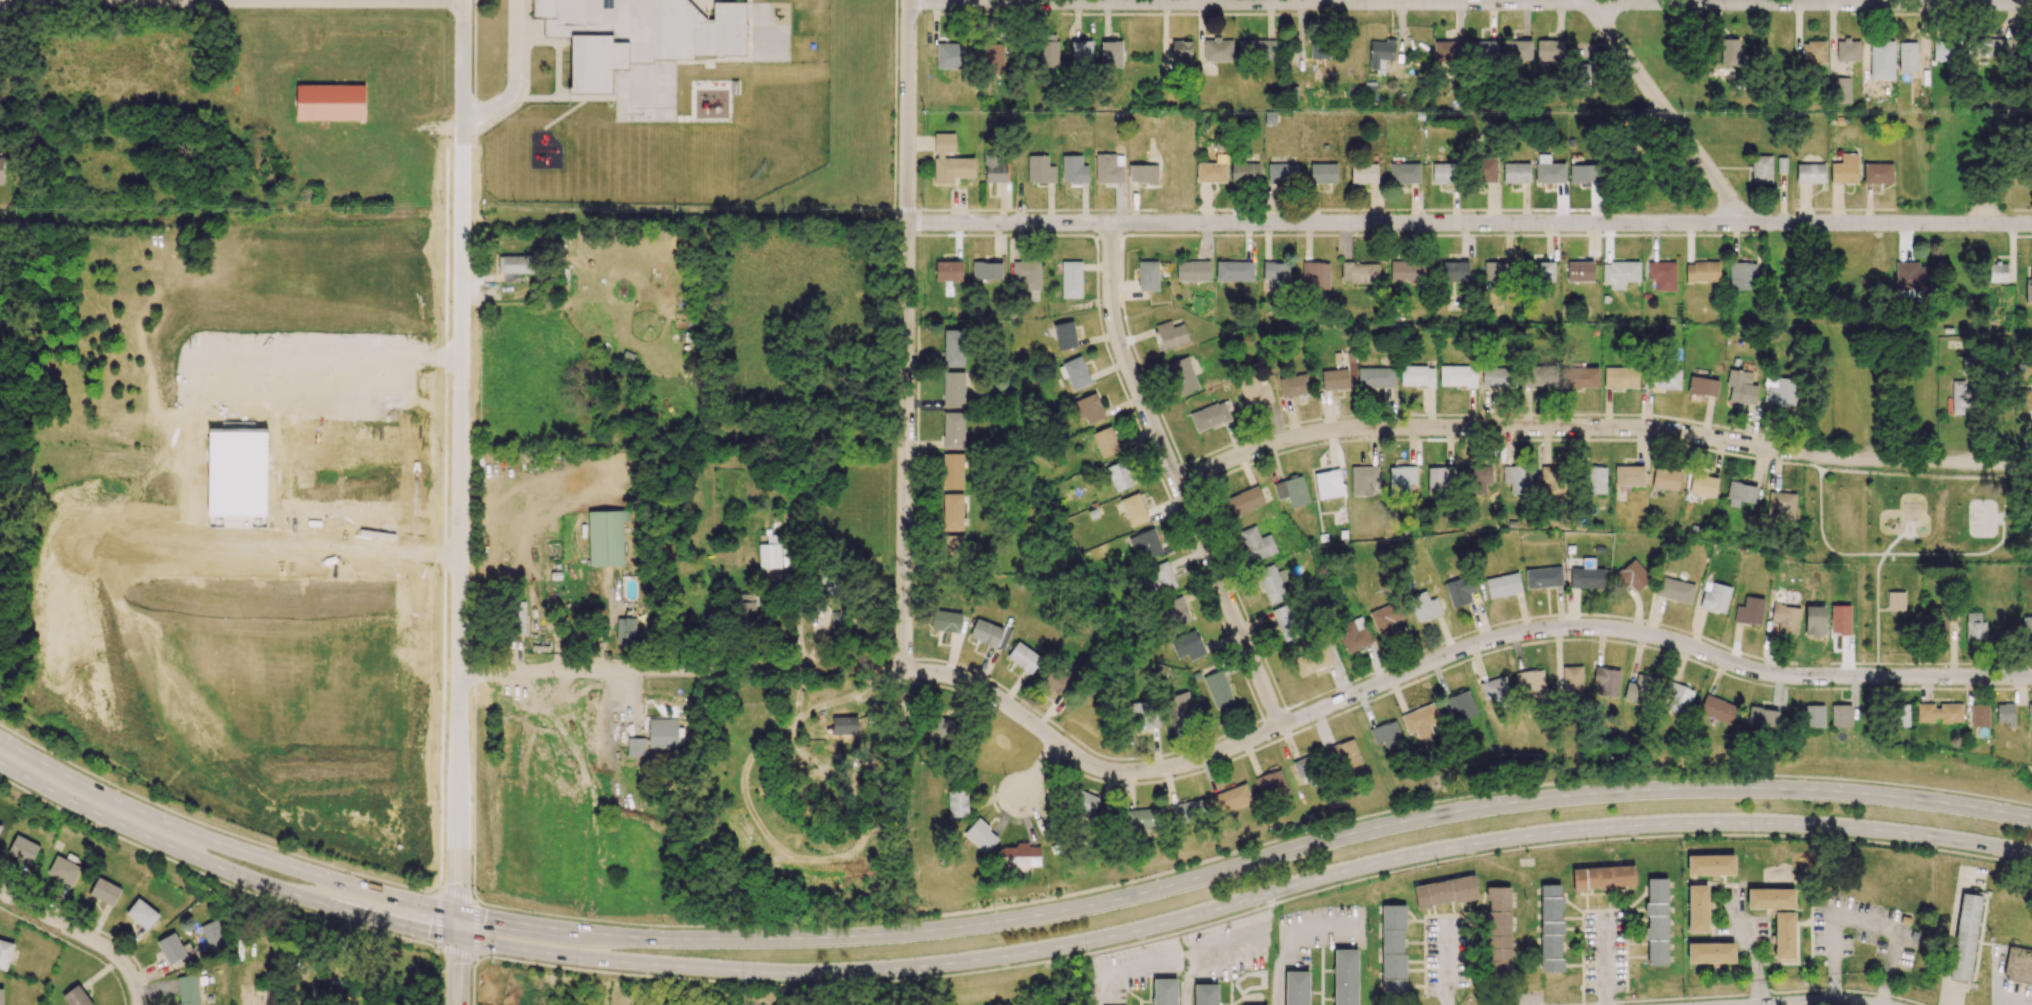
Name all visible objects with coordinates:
road: (287, 0)
road: (1470, 2)
building: (559, 16)
building: (679, 29)
building: (1991, 47)
building: (1256, 49)
building: (1482, 49)
building: (1048, 50)
building: (1218, 50)
building: (1318, 50)
building: (1516, 50)
building: (1550, 50)
building: (1848, 50)
building: (1946, 50)
building: (1449, 51)
building: (1081, 52)
building: (1182, 52)
building: (1729, 52)
building: (1813, 52)
building: (1380, 53)
building: (1111, 54)
building: (952, 56)
building: (1907, 56)
building: (994, 58)
building: (1, 60)
building: (1881, 60)
building: (595, 62)
road: (462, 70)
road: (515, 75)
building: (1581, 76)
building: (1840, 90)
building: (330, 102)
road: (1664, 109)
building: (950, 161)
building: (1781, 165)
building: (1109, 168)
building: (994, 169)
building: (1040, 169)
building: (1073, 169)
building: (1761, 169)
building: (1844, 169)
building: (0, 170)
building: (1212, 170)
building: (1485, 170)
building: (1549, 170)
building: (1245, 172)
building: (1143, 173)
building: (1282, 173)
building: (1322, 173)
building: (1363, 173)
building: (1404, 173)
building: (1444, 173)
building: (1516, 173)
building: (1810, 173)
building: (1877, 173)
building: (1583, 174)
road: (3, 212)
road: (398, 213)
road: (1469, 222)
building: (515, 266)
building: (987, 270)
building: (948, 271)
building: (1193, 271)
building: (1234, 271)
building: (1406, 271)
building: (1454, 271)
building: (1496, 271)
building: (1542, 271)
building: (1580, 271)
building: (1359, 272)
building: (1702, 272)
building: (1999, 272)
building: (1619, 273)
building: (1148, 275)
building: (1275, 275)
building: (1662, 275)
building: (1320, 276)
building: (1742, 276)
building: (1912, 276)
building: (1027, 278)
building: (1071, 279)
building: (2028, 288)
building: (1065, 335)
building: (1171, 335)
road: (905, 336)
building: (954, 348)
building: (1074, 373)
building: (1183, 375)
building: (1417, 376)
building: (1457, 376)
building: (1531, 376)
building: (1585, 376)
building: (1376, 377)
building: (1496, 377)
building: (1619, 378)
building: (1334, 379)
building: (1664, 379)
building: (1294, 385)
building: (1702, 386)
building: (1741, 387)
building: (953, 389)
building: (1255, 392)
building: (1782, 392)
building: (1960, 397)
building: (2025, 399)
road: (464, 405)
building: (1089, 408)
building: (1209, 416)
road: (1600, 427)
building: (953, 430)
building: (1105, 442)
building: (952, 471)
building: (1629, 475)
building: (1119, 476)
building: (1401, 478)
building: (1479, 478)
building: (1517, 478)
road: (1174, 479)
building: (1364, 479)
building: (1665, 479)
building: (1440, 480)
building: (1553, 480)
building: (1596, 480)
building: (1328, 484)
building: (1703, 485)
building: (1291, 490)
building: (1741, 494)
building: (1245, 501)
building: (1781, 507)
building: (1134, 509)
building: (952, 512)
road: (85, 532)
building: (606, 537)
building: (1257, 542)
building: (952, 545)
building: (1146, 545)
building: (770, 552)
road: (289, 556)
building: (1587, 575)
building: (1634, 575)
building: (1543, 577)
building: (1158, 578)
building: (1272, 583)
building: (827, 584)
building: (1503, 585)
building: (1674, 590)
building: (1458, 592)
building: (1715, 598)
building: (1895, 601)
building: (1424, 606)
building: (746, 607)
building: (1750, 611)
building: (1176, 612)
building: (519, 617)
building: (1385, 618)
building: (1840, 619)
building: (1786, 620)
building: (841, 621)
building: (946, 621)
building: (1286, 622)
building: (1945, 625)
building: (1974, 627)
building: (2027, 627)
building: (625, 630)
building: (989, 633)
building: (1353, 635)
building: (1190, 646)
building: (1023, 657)
building: (1313, 660)
building: (1057, 681)
building: (1572, 681)
building: (1606, 681)
building: (1530, 683)
building: (1494, 688)
building: (1218, 689)
building: (1639, 689)
building: (1677, 699)
building: (1461, 706)
building: (1179, 707)
building: (1716, 709)
building: (2029, 712)
building: (1938, 713)
building: (2005, 713)
building: (1144, 715)
building: (1902, 715)
building: (1979, 715)
building: (1813, 716)
building: (1841, 716)
building: (1762, 717)
building: (1421, 718)
building: (943, 728)
building: (664, 733)
building: (1387, 735)
road: (1244, 740)
building: (635, 746)
building: (1345, 754)
building: (1305, 766)
road: (1039, 770)
road: (474, 786)
building: (1272, 786)
road: (458, 792)
building: (1232, 798)
building: (957, 803)
building: (1085, 803)
building: (1188, 812)
building: (1145, 818)
building: (0, 825)
road: (213, 827)
building: (980, 836)
road: (1253, 847)
building: (23, 849)
building: (1021, 855)
building: (1710, 865)
building: (64, 870)
building: (1603, 877)
road: (213, 878)
building: (105, 891)
building: (1445, 891)
road: (459, 894)
building: (1770, 898)
building: (1697, 909)
road: (1254, 910)
traffic signals: (458, 913)
building: (142, 914)
road: (438, 918)
road: (1006, 920)
building: (1656, 921)
building: (1551, 928)
road: (476, 930)
building: (1498, 930)
road: (76, 932)
building: (213, 934)
building: (1784, 935)
building: (1965, 937)
traffic signals: (458, 940)
road: (1290, 947)
building: (171, 948)
building: (1393, 948)
road: (1748, 948)
road: (457, 953)
road: (1205, 953)
building: (1711, 953)
building: (5, 954)
road: (1005, 957)
road: (458, 959)
building: (2018, 965)
road: (1121, 969)
building: (1345, 977)
road: (473, 982)
building: (1296, 988)
building: (188, 990)
building: (1164, 991)
building: (1205, 994)
building: (1, 996)
building: (76, 996)
building: (273, 996)
road: (136, 997)
road: (1830, 1003)
building: (761, 1004)

